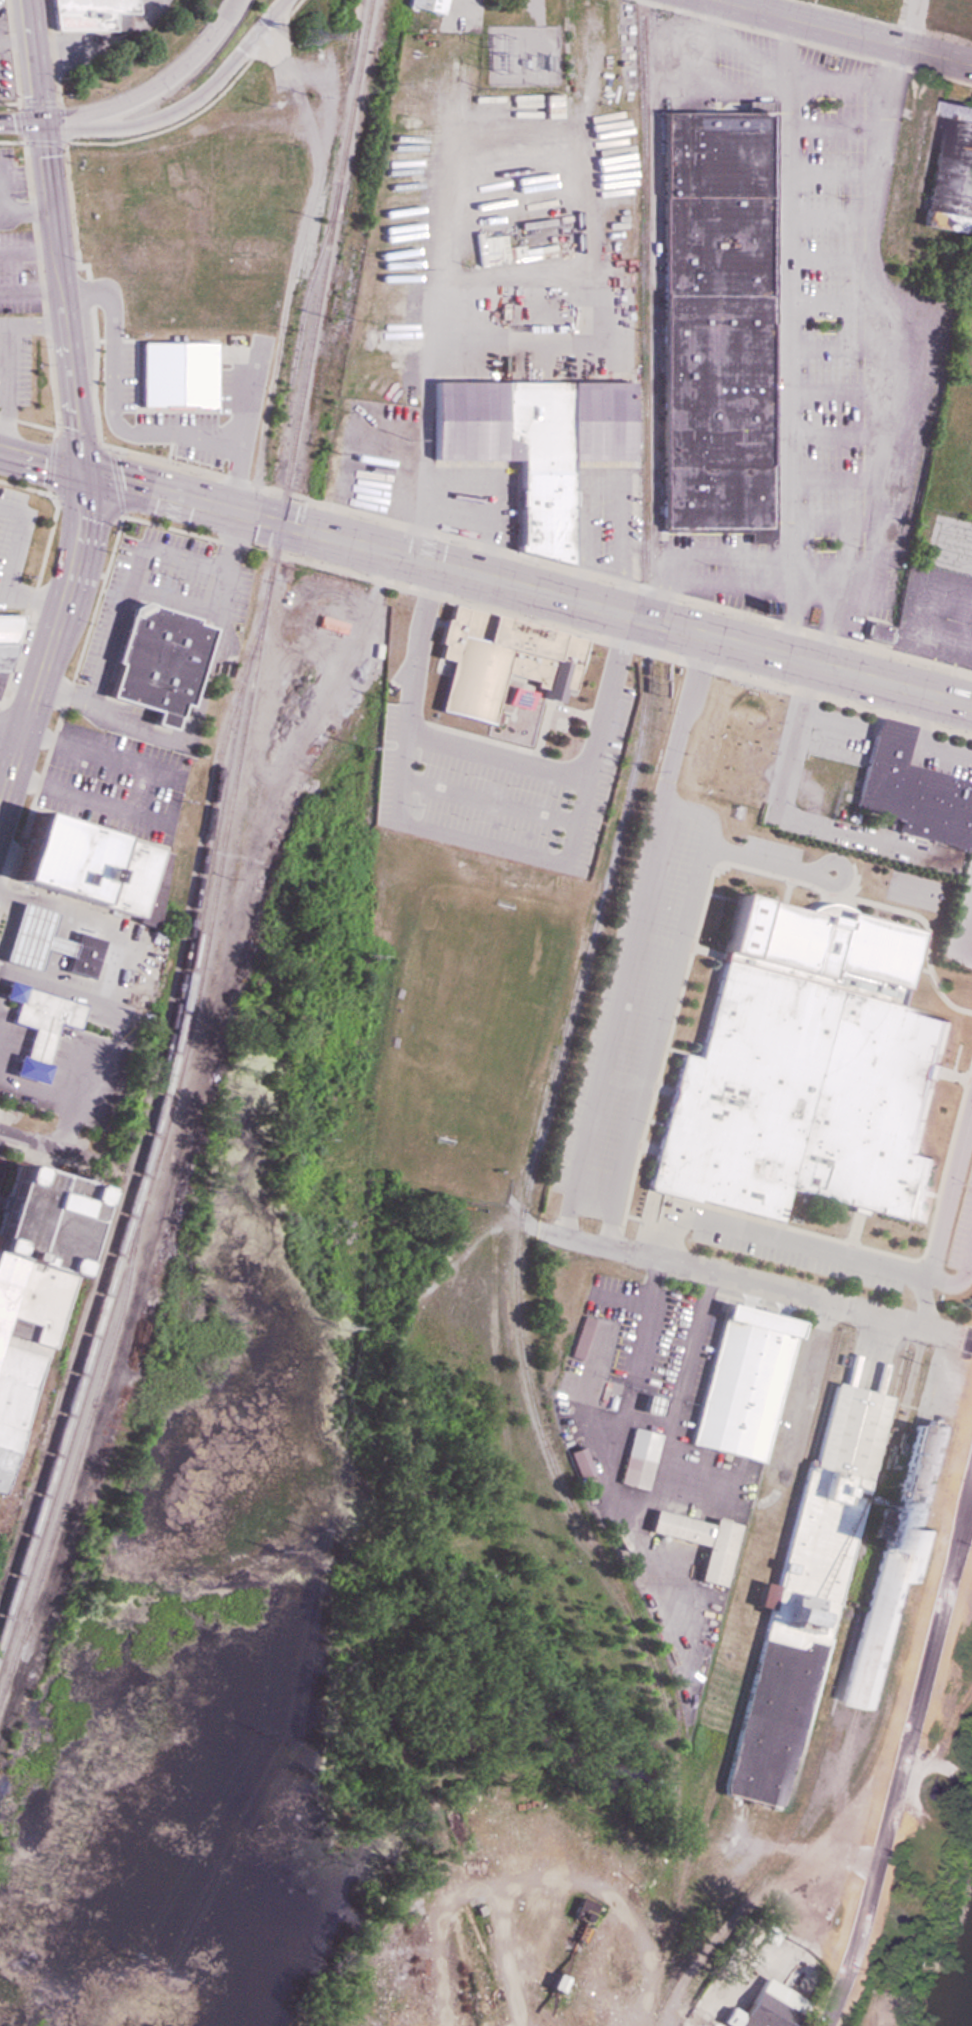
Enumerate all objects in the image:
building: (428, 4)
building: (346, 12)
building: (89, 14)
road: (838, 32)
road: (740, 50)
power substation: (522, 53)
road: (35, 63)
road: (849, 80)
road: (153, 86)
road: (185, 106)
road: (21, 126)
building: (949, 170)
road: (64, 300)
railway: (303, 307)
building: (710, 321)
road: (794, 324)
road: (877, 344)
building: (967, 368)
building: (177, 373)
building: (531, 446)
road: (42, 462)
road: (12, 567)
road: (709, 581)
road: (815, 587)
road: (528, 590)
road: (3, 591)
road: (430, 597)
road: (789, 614)
road: (830, 620)
road: (623, 641)
road: (51, 645)
road: (807, 649)
building: (3, 656)
building: (498, 658)
building: (156, 661)
road: (514, 706)
road: (13, 726)
road: (525, 748)
road: (102, 755)
parking lot: (593, 771)
parking lot: (468, 778)
building: (911, 791)
road: (90, 802)
railway: (225, 843)
road: (768, 861)
building: (82, 866)
road: (638, 918)
building: (29, 937)
building: (79, 956)
parking lot: (635, 1007)
road: (661, 1012)
building: (35, 1025)
railway: (569, 1028)
park: (466, 1040)
building: (803, 1071)
railway: (151, 1107)
road: (45, 1145)
railway: (144, 1162)
road: (949, 1204)
parking lot: (953, 1214)
road: (565, 1217)
road: (610, 1226)
road: (788, 1241)
parking lot: (801, 1249)
building: (31, 1275)
road: (757, 1278)
road: (954, 1284)
building: (580, 1337)
building: (740, 1383)
building: (637, 1458)
building: (579, 1462)
railway: (72, 1474)
building: (696, 1541)
building: (834, 1589)
road: (905, 1733)
building: (740, 1947)
building: (552, 1984)
building: (766, 2008)

